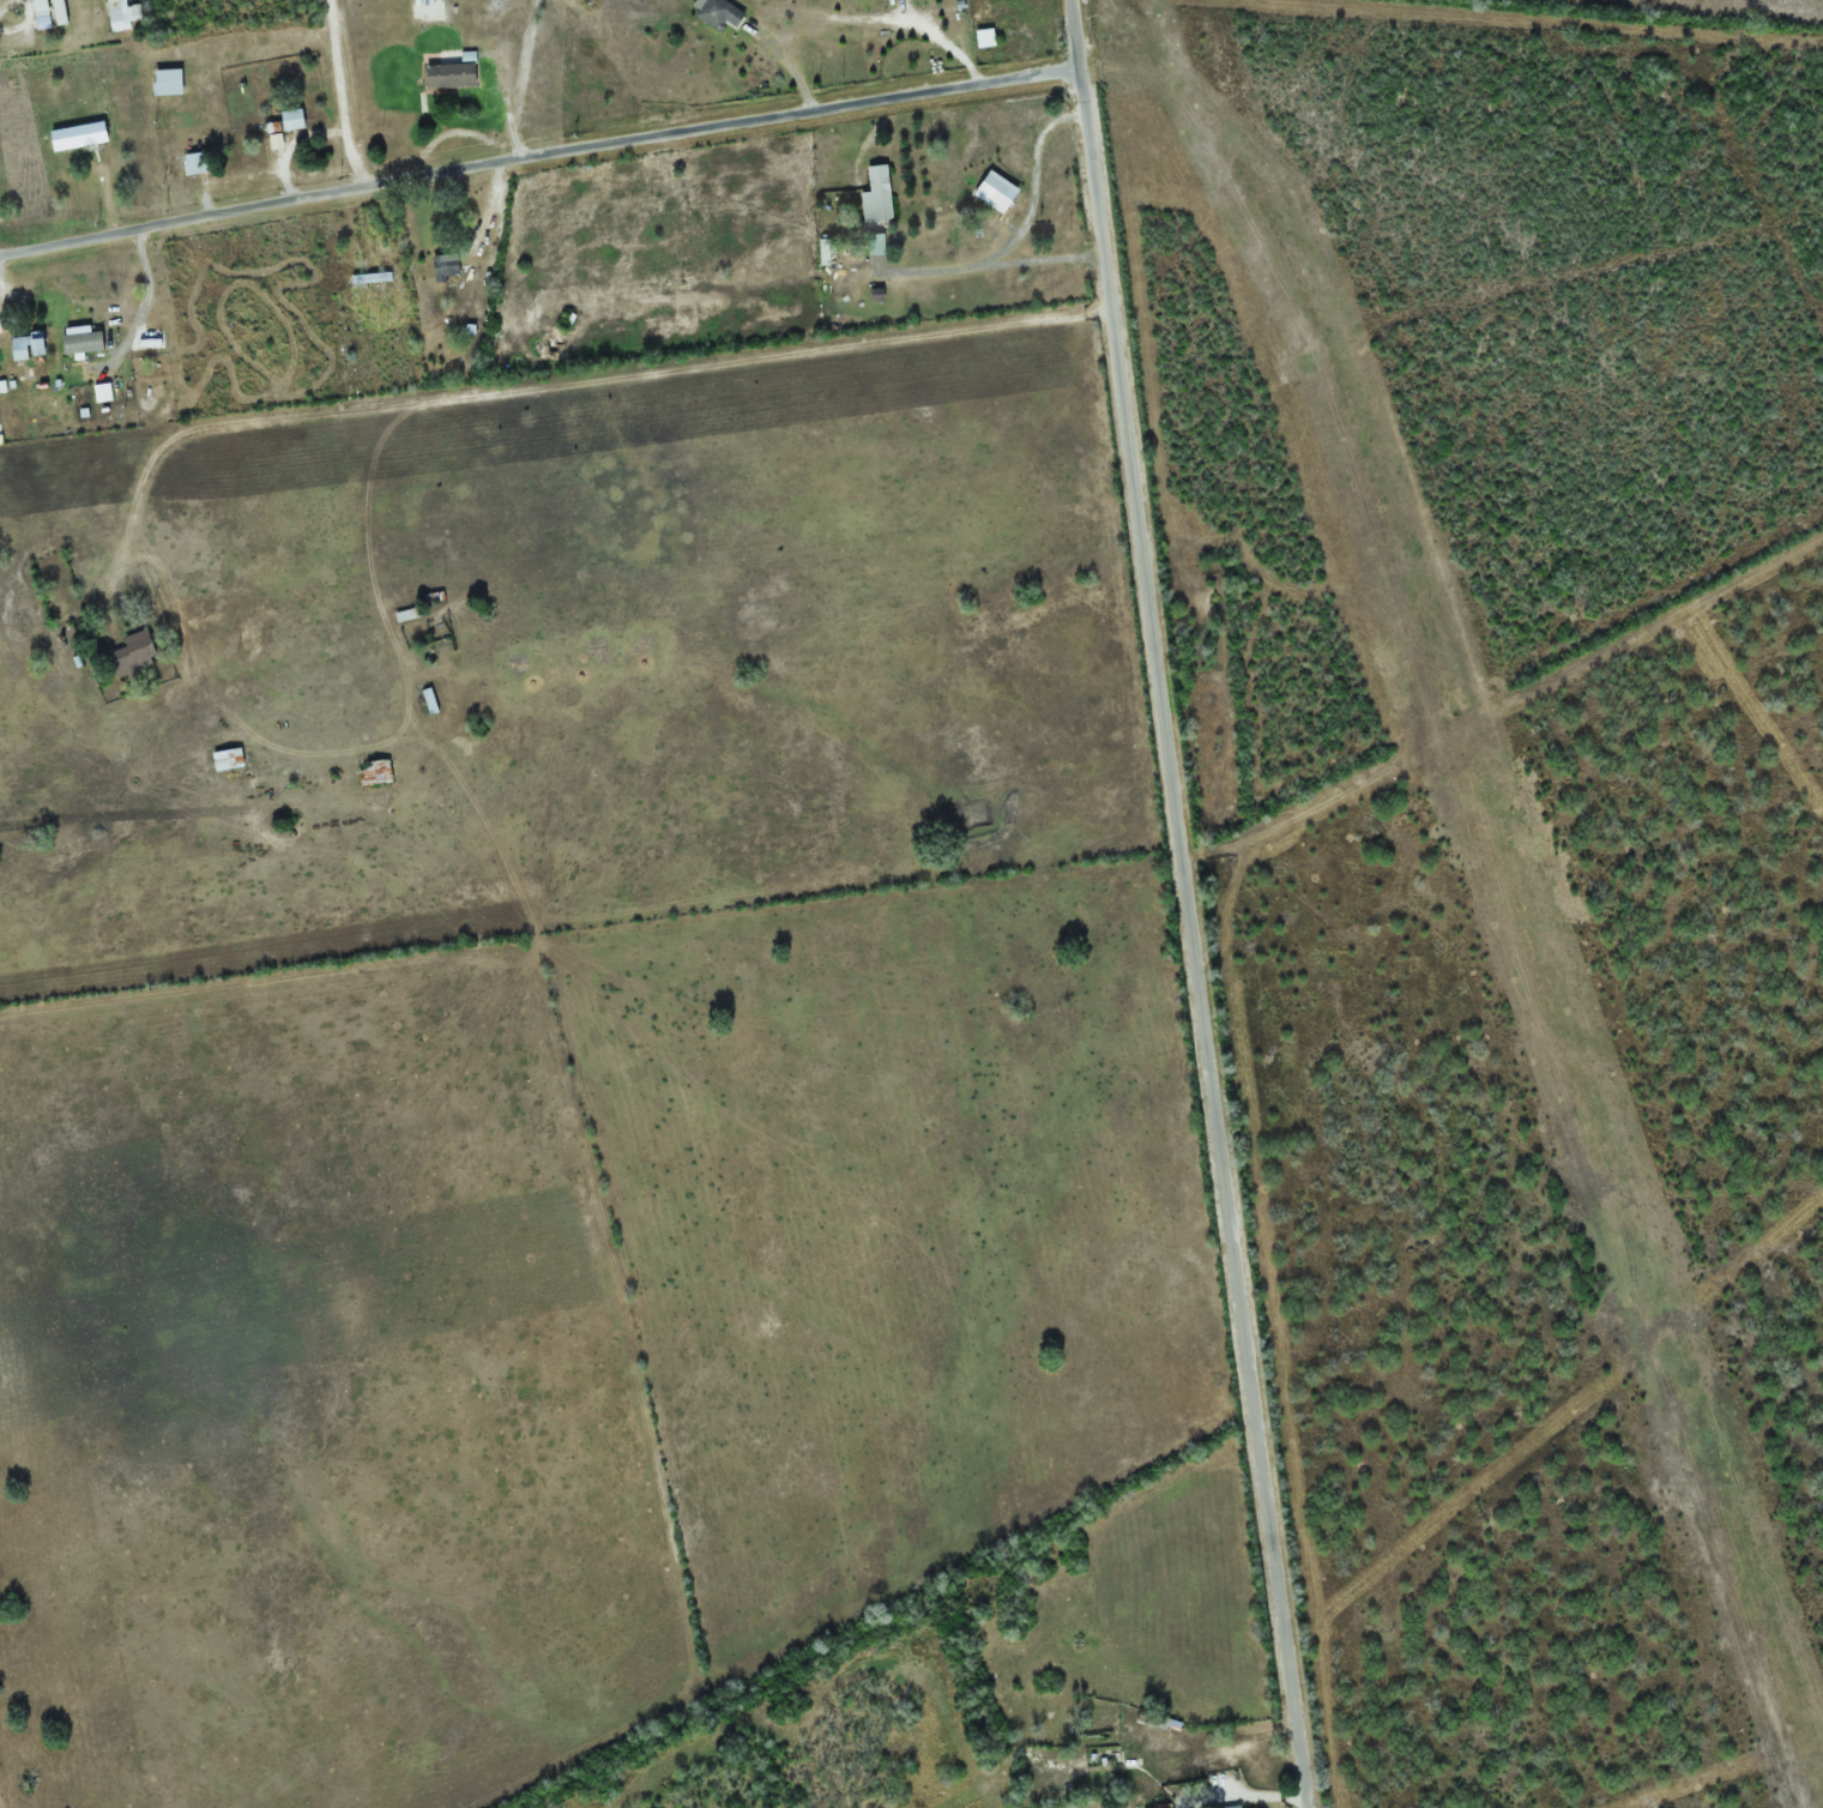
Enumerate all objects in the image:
building: (427, 10)
building: (43, 13)
building: (719, 13)
building: (119, 14)
building: (453, 71)
building: (168, 82)
road: (339, 95)
building: (285, 127)
building: (80, 135)
road: (536, 150)
building: (191, 156)
building: (879, 194)
building: (827, 251)
building: (189, 260)
building: (447, 265)
building: (373, 277)
building: (29, 345)
building: (409, 614)
building: (135, 655)
building: (430, 700)
building: (229, 759)
building: (376, 772)
road: (1185, 904)
building: (1227, 1807)

